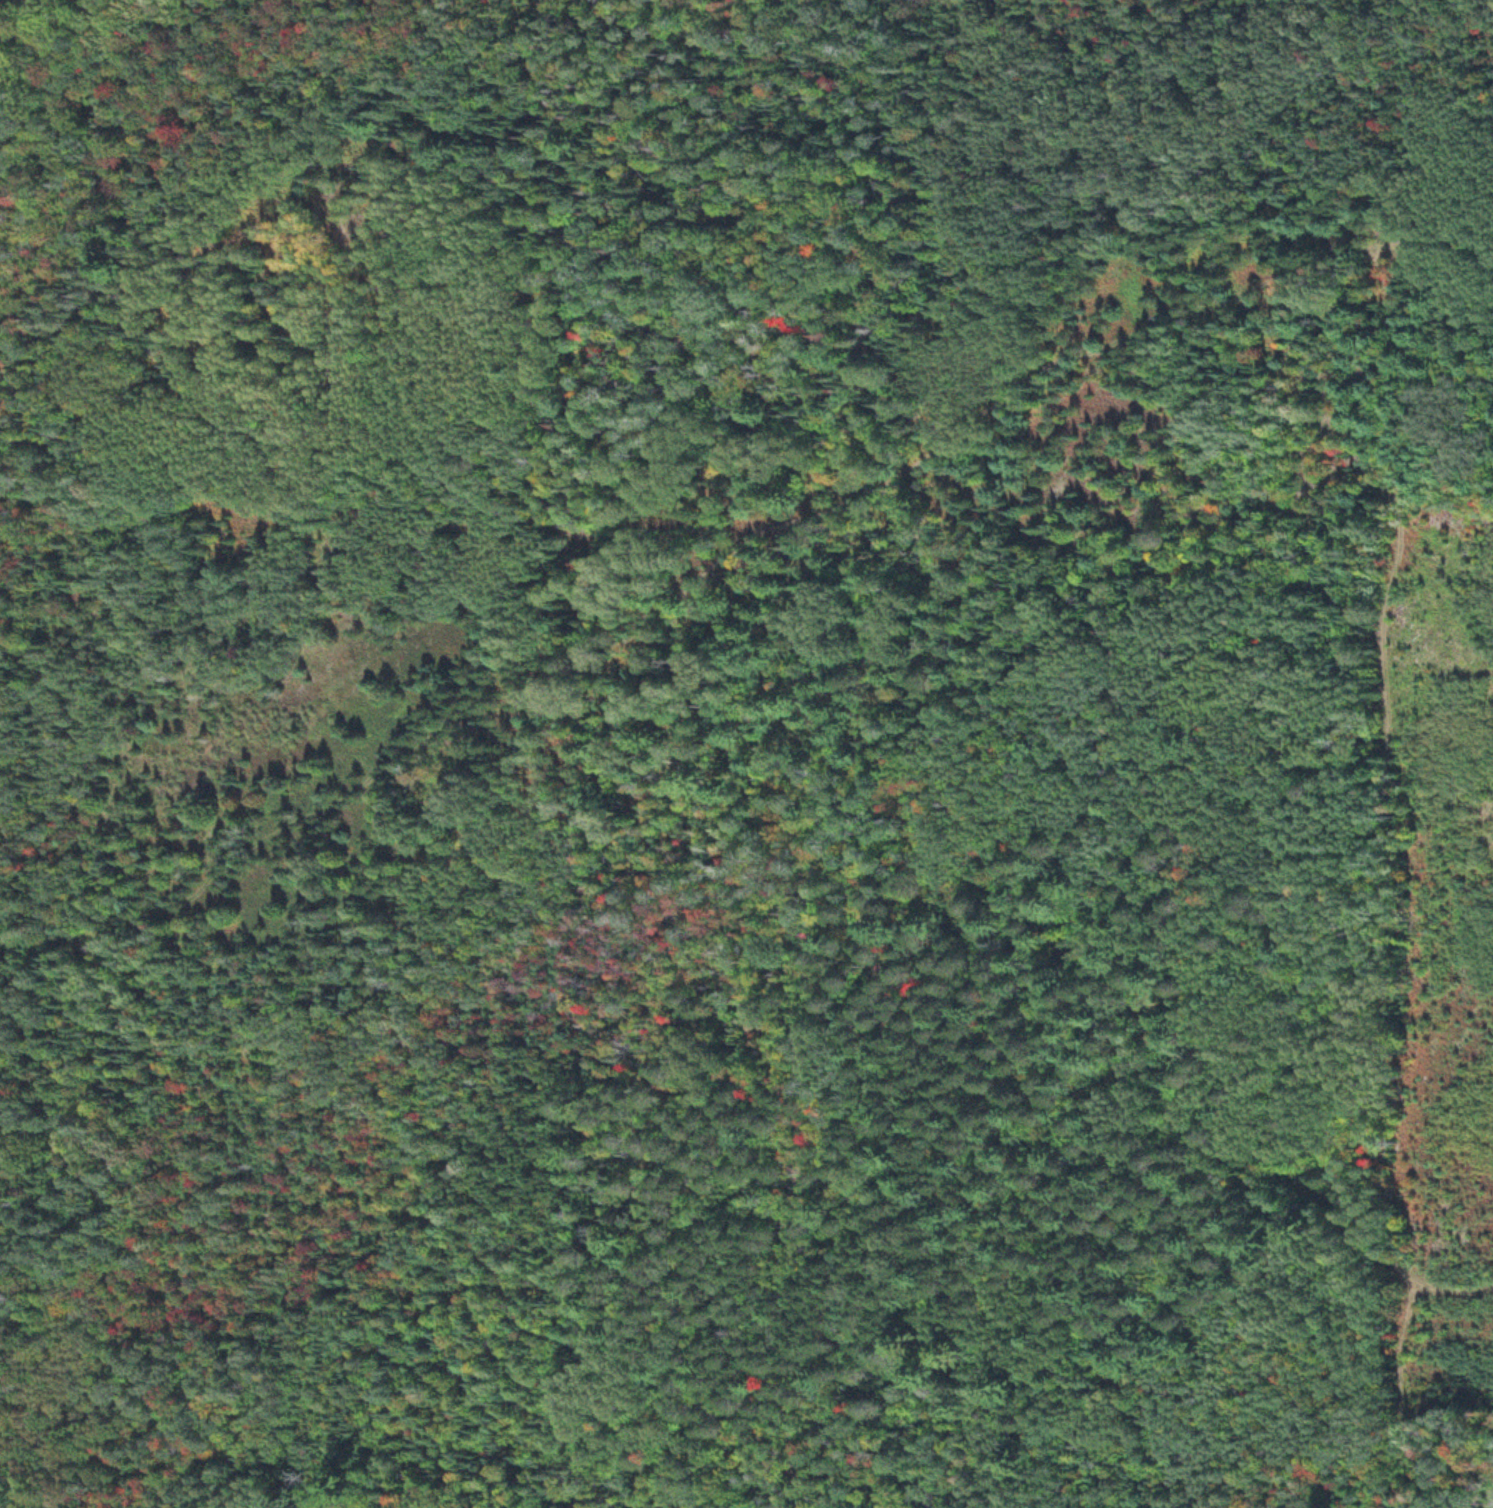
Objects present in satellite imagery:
road: (1336, 807)
road: (1389, 1399)

